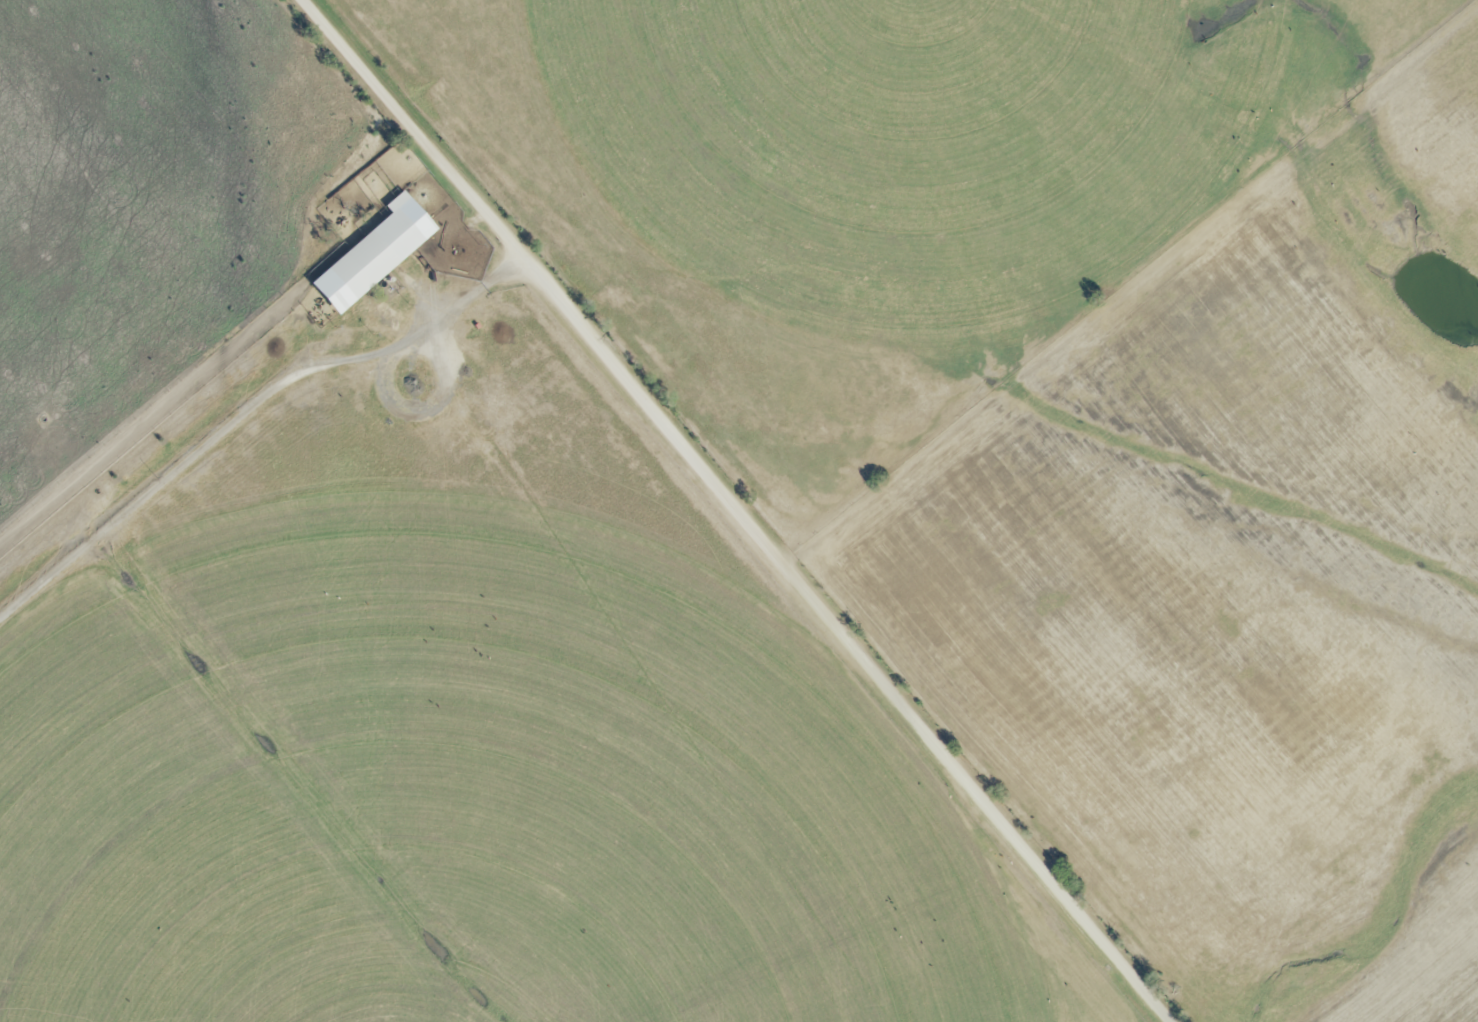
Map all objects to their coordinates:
building: (400, 210)
road: (735, 511)

